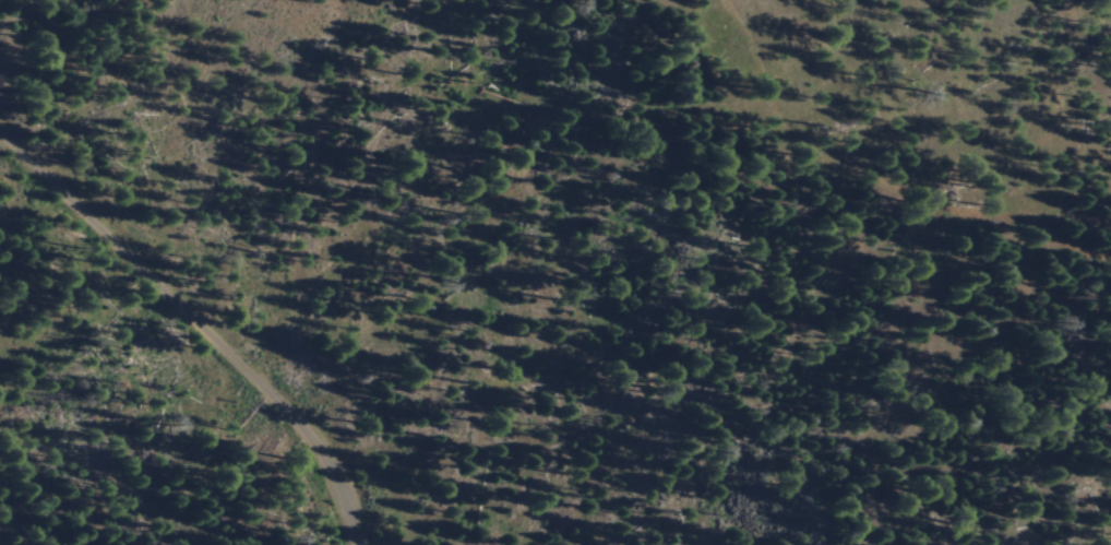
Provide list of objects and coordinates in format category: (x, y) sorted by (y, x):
road: (194, 334)

